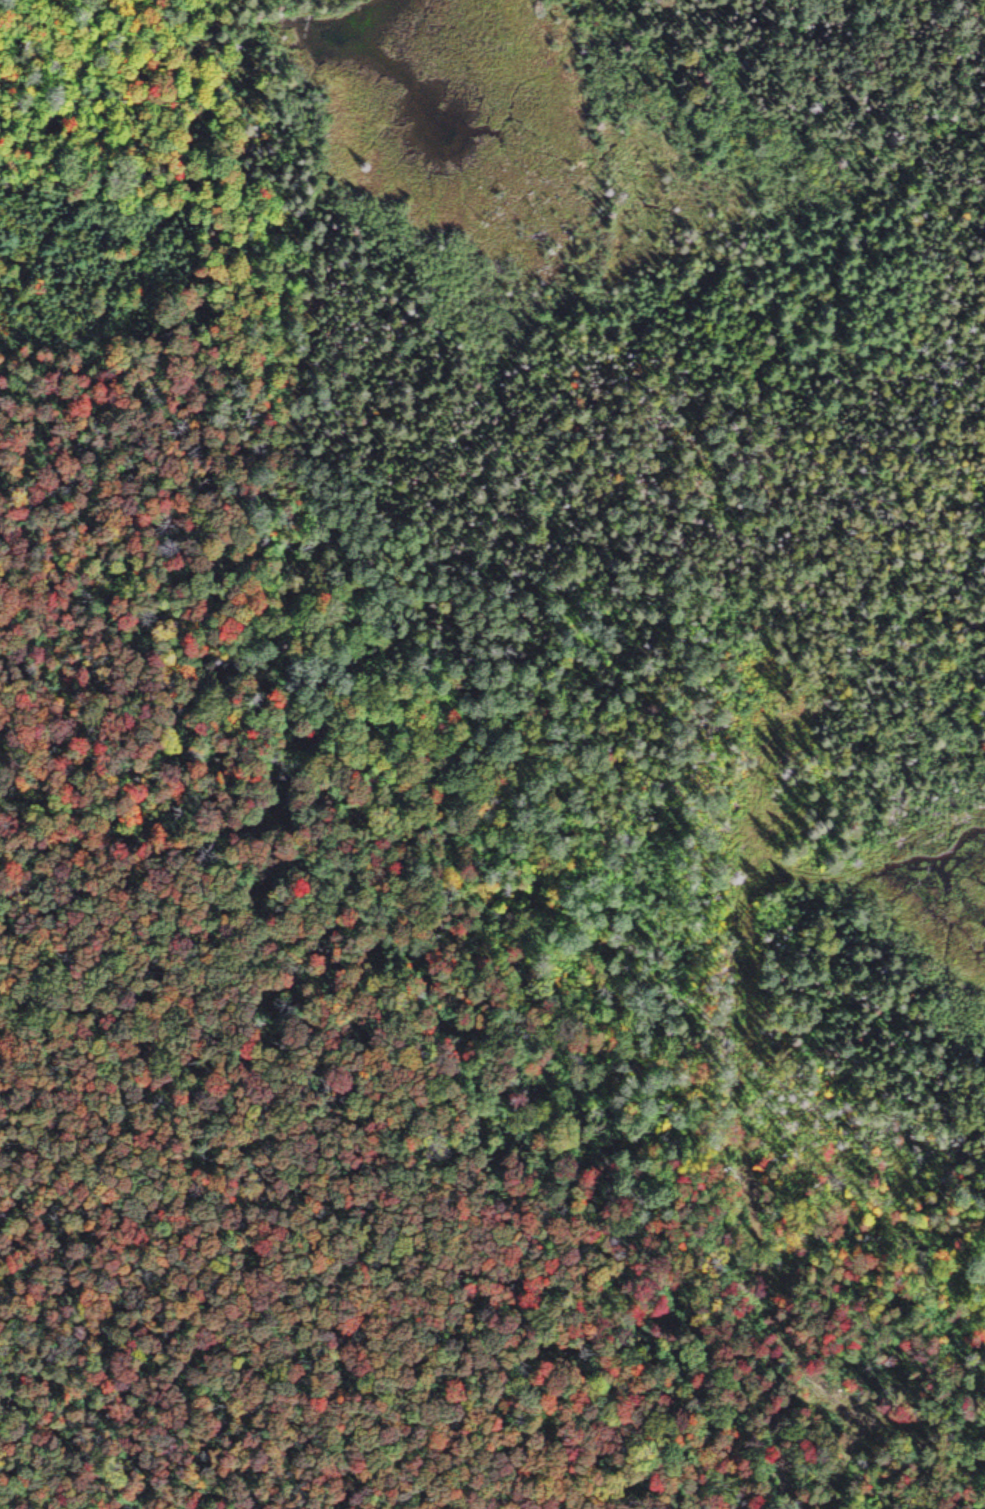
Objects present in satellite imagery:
road: (256, 750)

